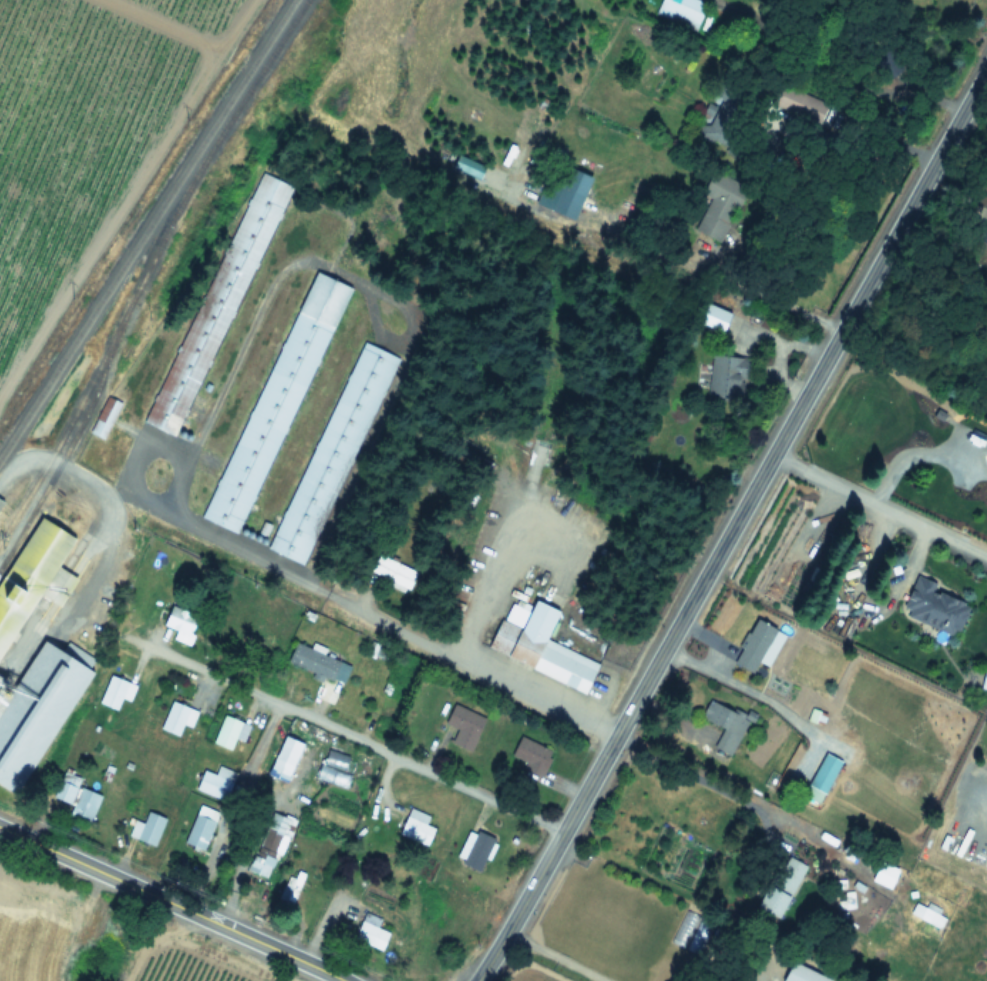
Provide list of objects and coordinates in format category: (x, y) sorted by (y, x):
building: (680, 11)
road: (984, 83)
building: (784, 100)
crop: (87, 134)
road: (859, 137)
building: (569, 192)
railway: (147, 228)
building: (981, 234)
railway: (148, 267)
road: (775, 293)
building: (216, 303)
building: (711, 317)
building: (725, 377)
building: (275, 402)
building: (861, 408)
building: (103, 417)
building: (332, 453)
road: (906, 453)
road: (879, 504)
road: (733, 526)
building: (391, 572)
building: (33, 574)
road: (488, 590)
building: (933, 606)
road: (364, 613)
building: (180, 623)
building: (538, 645)
building: (756, 646)
road: (42, 651)
building: (312, 659)
building: (115, 691)
building: (35, 707)
building: (176, 717)
building: (463, 725)
building: (724, 725)
building: (229, 731)
road: (347, 734)
building: (530, 755)
road: (695, 773)
building: (820, 777)
building: (215, 782)
building: (75, 796)
building: (415, 826)
building: (200, 827)
building: (146, 828)
building: (269, 845)
road: (245, 850)
building: (883, 874)
building: (290, 886)
building: (779, 886)
road: (173, 903)
building: (928, 914)
building: (685, 929)
building: (369, 930)
road: (159, 943)
crop: (75, 950)
road: (554, 956)
building: (799, 974)
building: (758, 980)

